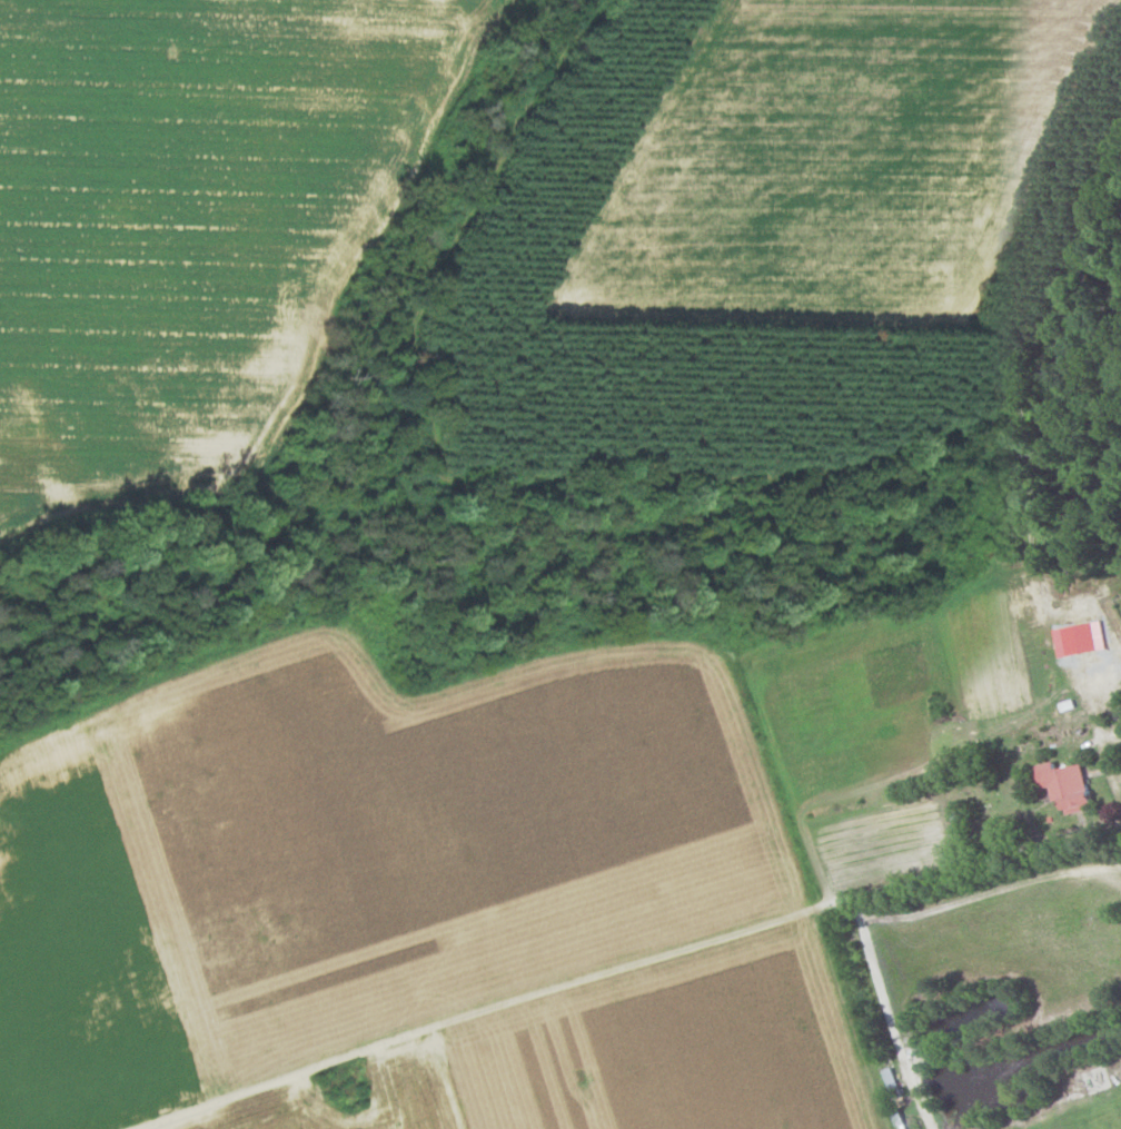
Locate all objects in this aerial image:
building: (1064, 785)
road: (632, 969)
road: (887, 1017)
building: (887, 1077)

